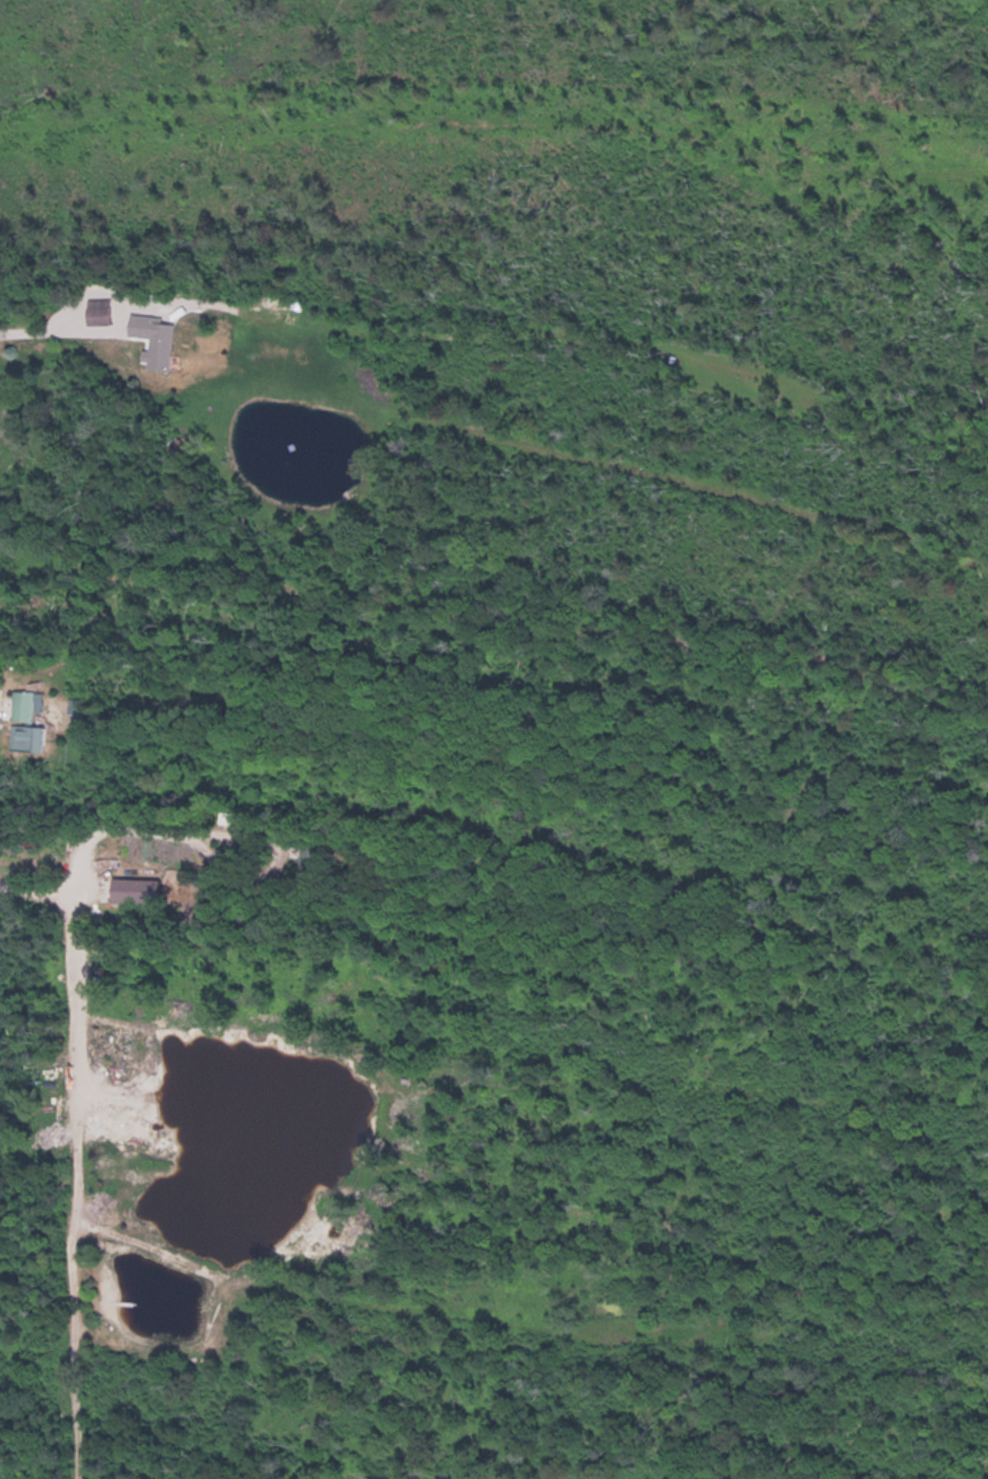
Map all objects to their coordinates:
building: (101, 310)
building: (292, 313)
road: (55, 329)
building: (161, 342)
building: (26, 704)
building: (31, 737)
building: (312, 858)
building: (143, 890)

